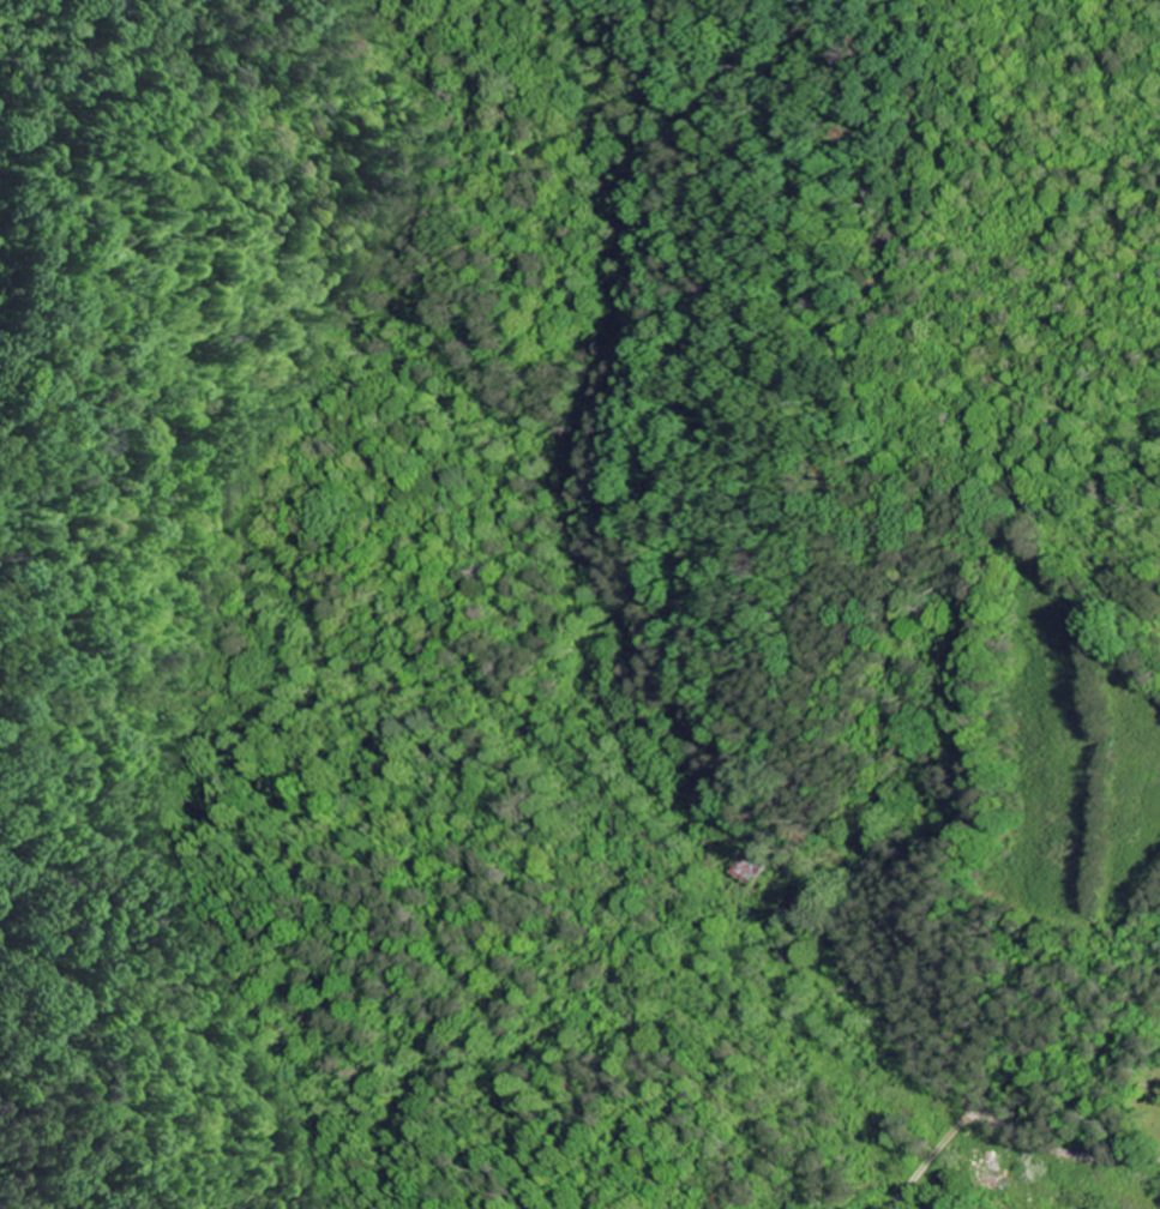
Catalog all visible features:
road: (974, 1102)

